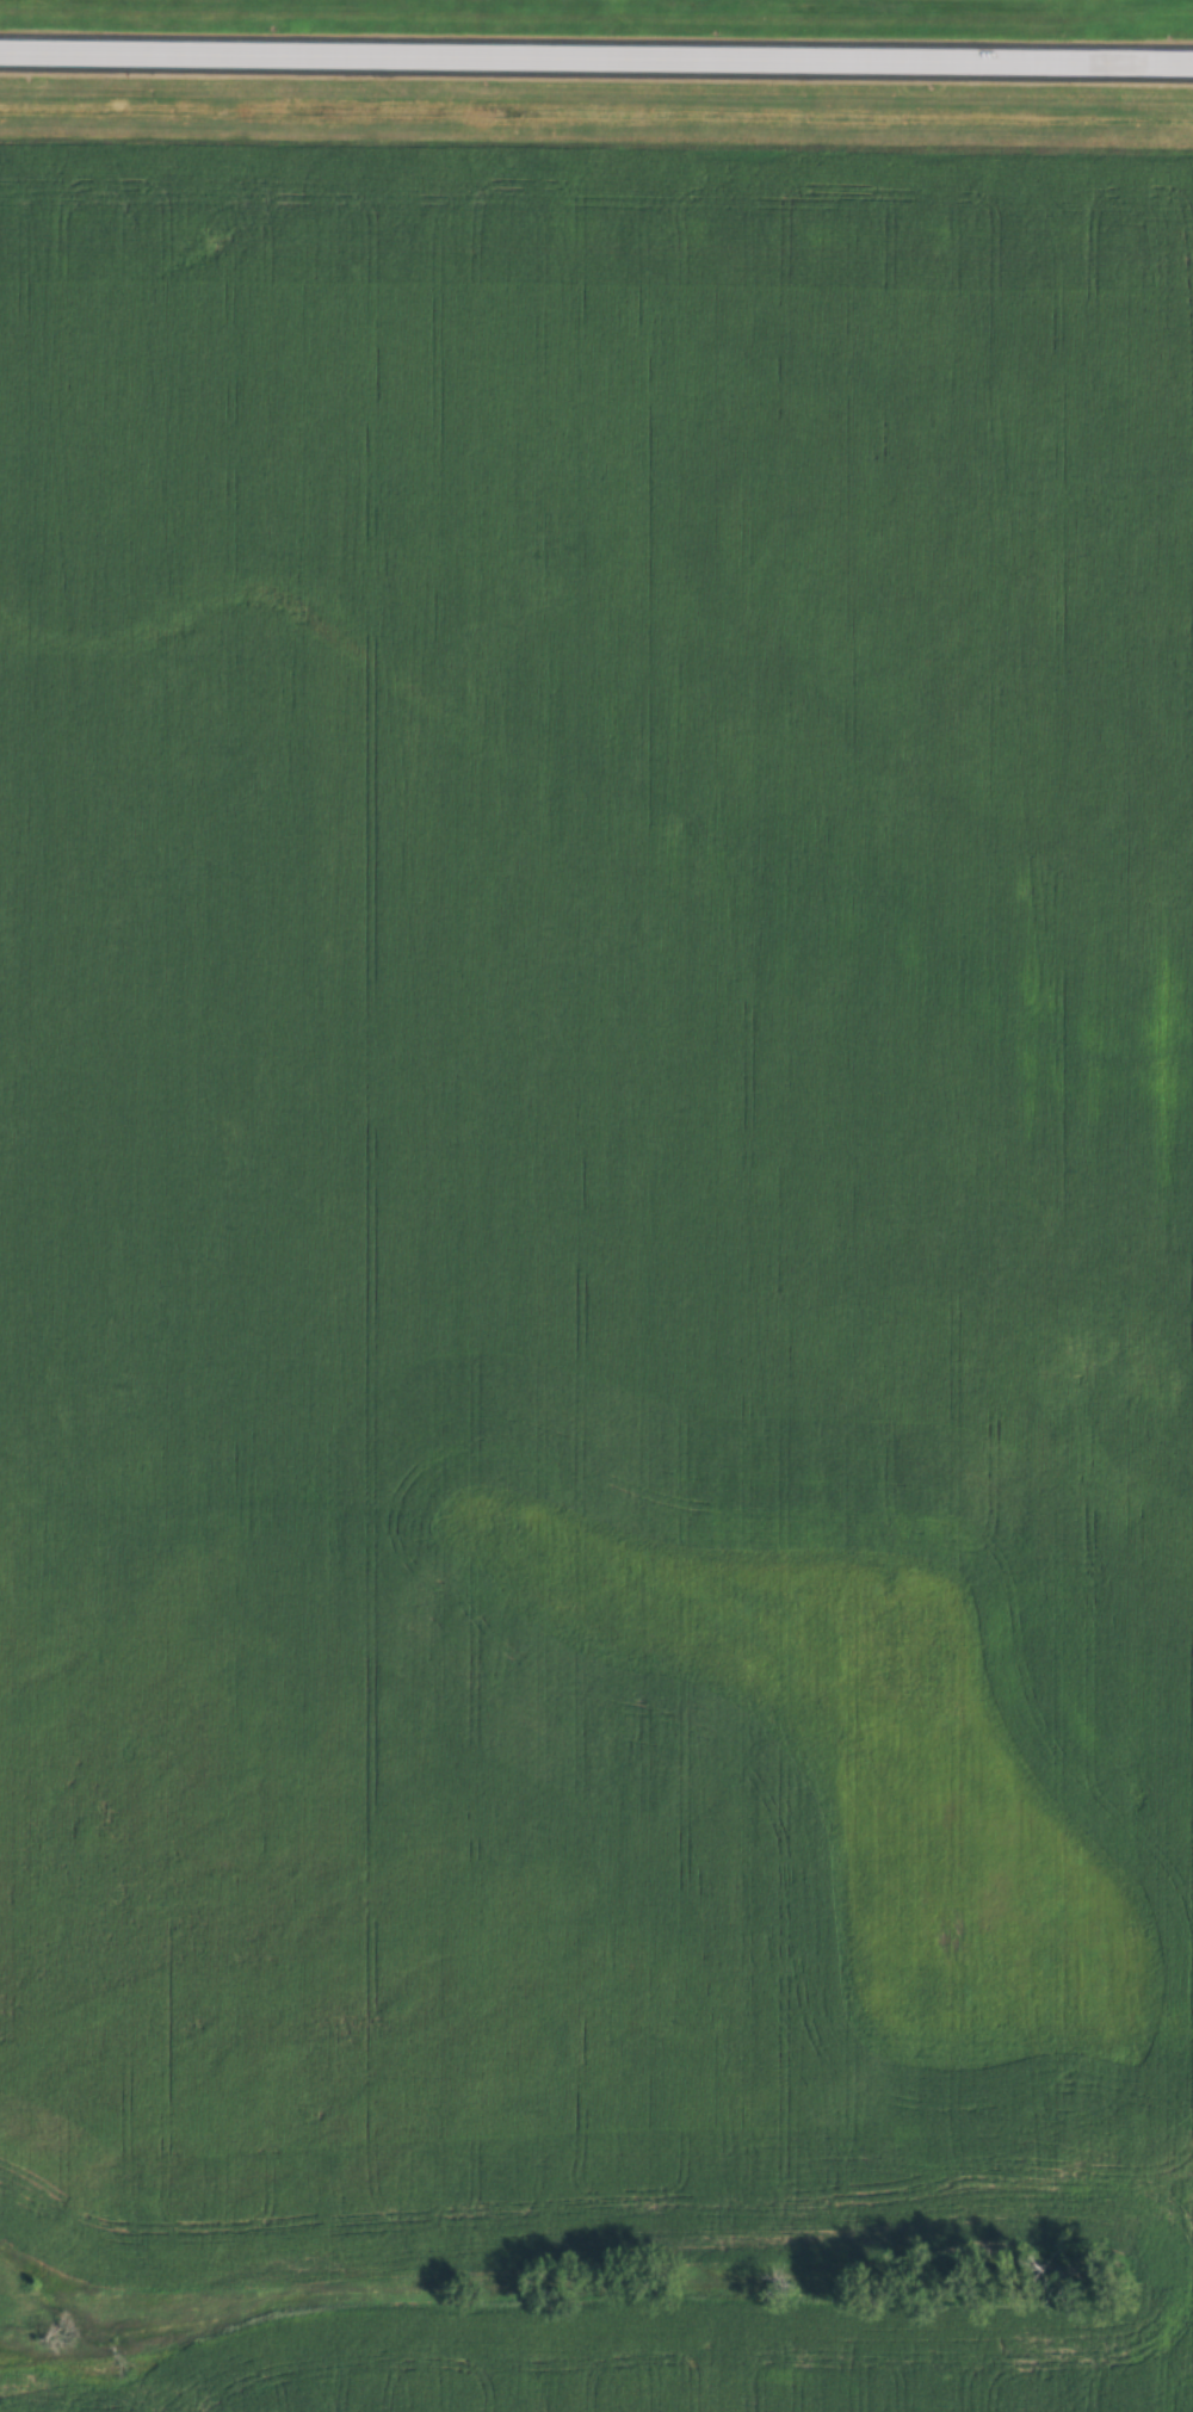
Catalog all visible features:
road: (595, 52)
building: (773, 61)

